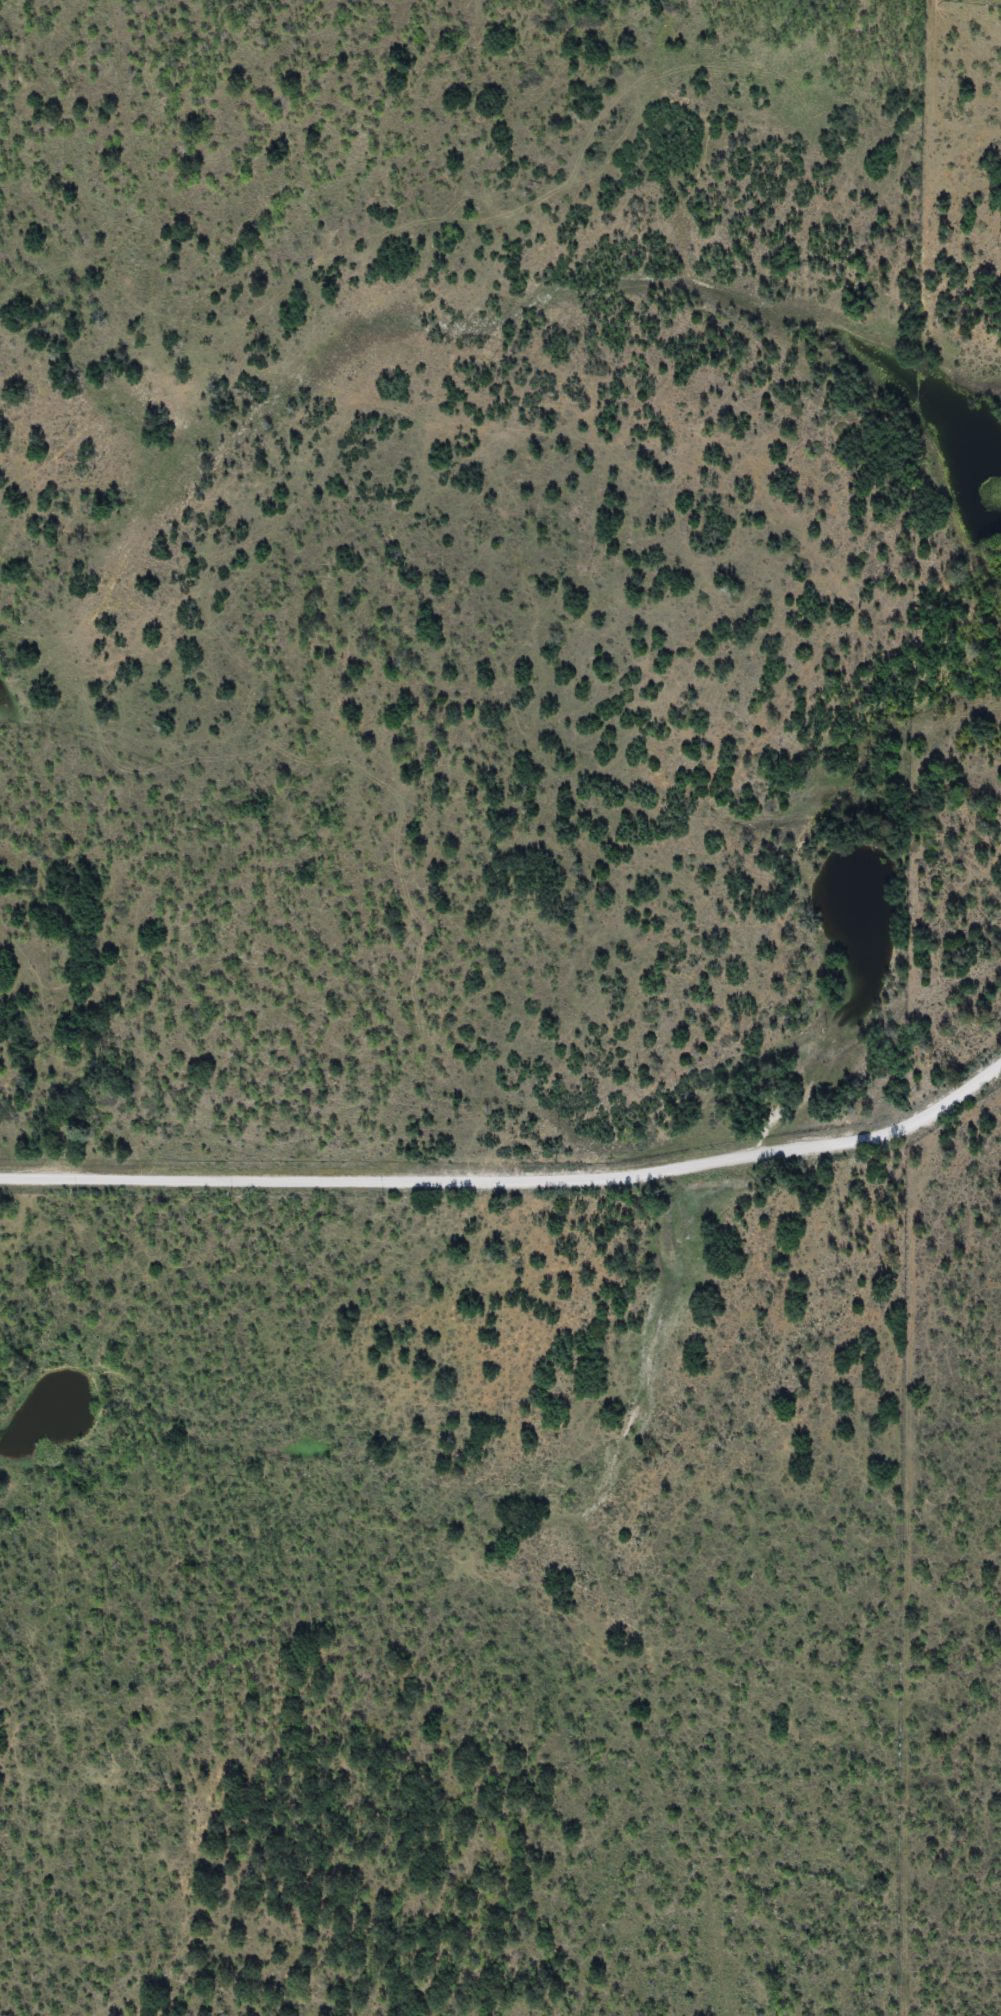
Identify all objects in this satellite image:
park: (62, 1127)
road: (511, 1179)

